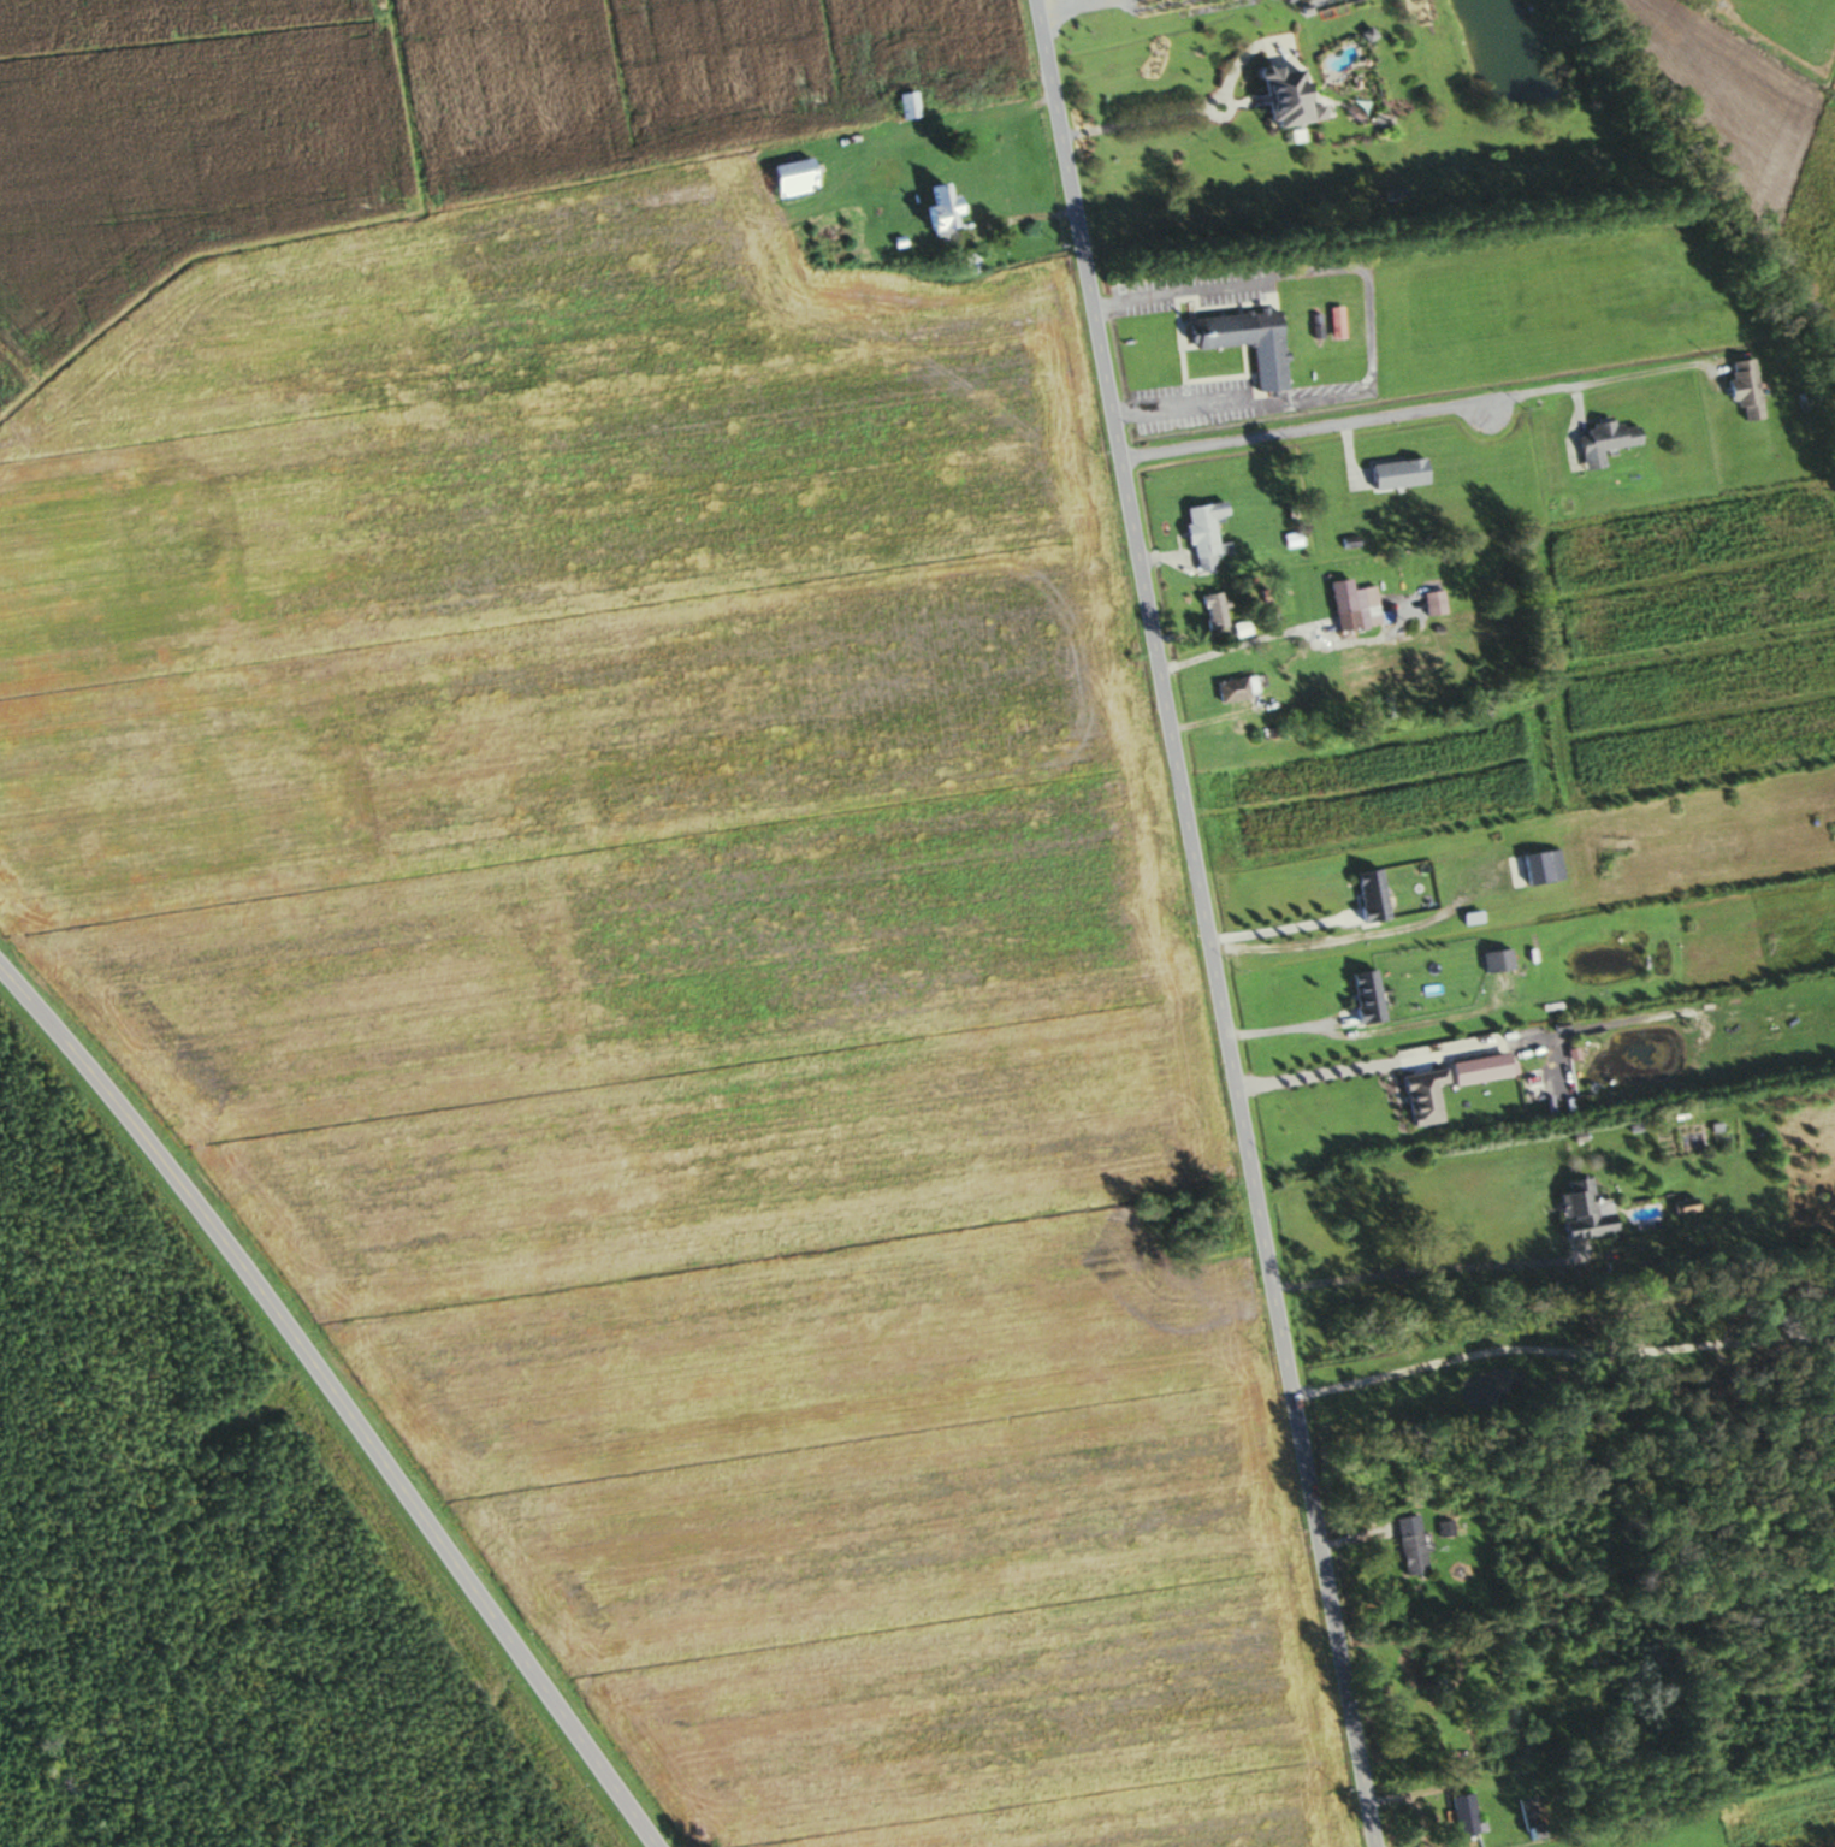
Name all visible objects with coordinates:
building: (1273, 94)
building: (904, 103)
road: (1184, 113)
building: (788, 177)
building: (931, 208)
building: (828, 243)
building: (969, 262)
building: (1333, 321)
building: (1244, 342)
road: (1599, 379)
building: (1740, 387)
road: (1302, 431)
building: (1602, 440)
building: (1392, 473)
building: (1201, 534)
building: (1351, 605)
building: (1210, 610)
building: (1232, 688)
building: (1366, 894)
road: (1206, 923)
road: (1280, 930)
road: (1409, 1058)
building: (1417, 1096)
building: (1576, 1212)
road: (1431, 1269)
road: (1559, 1350)
road: (335, 1405)
building: (1407, 1544)
building: (1419, 1728)
building: (1460, 1815)

